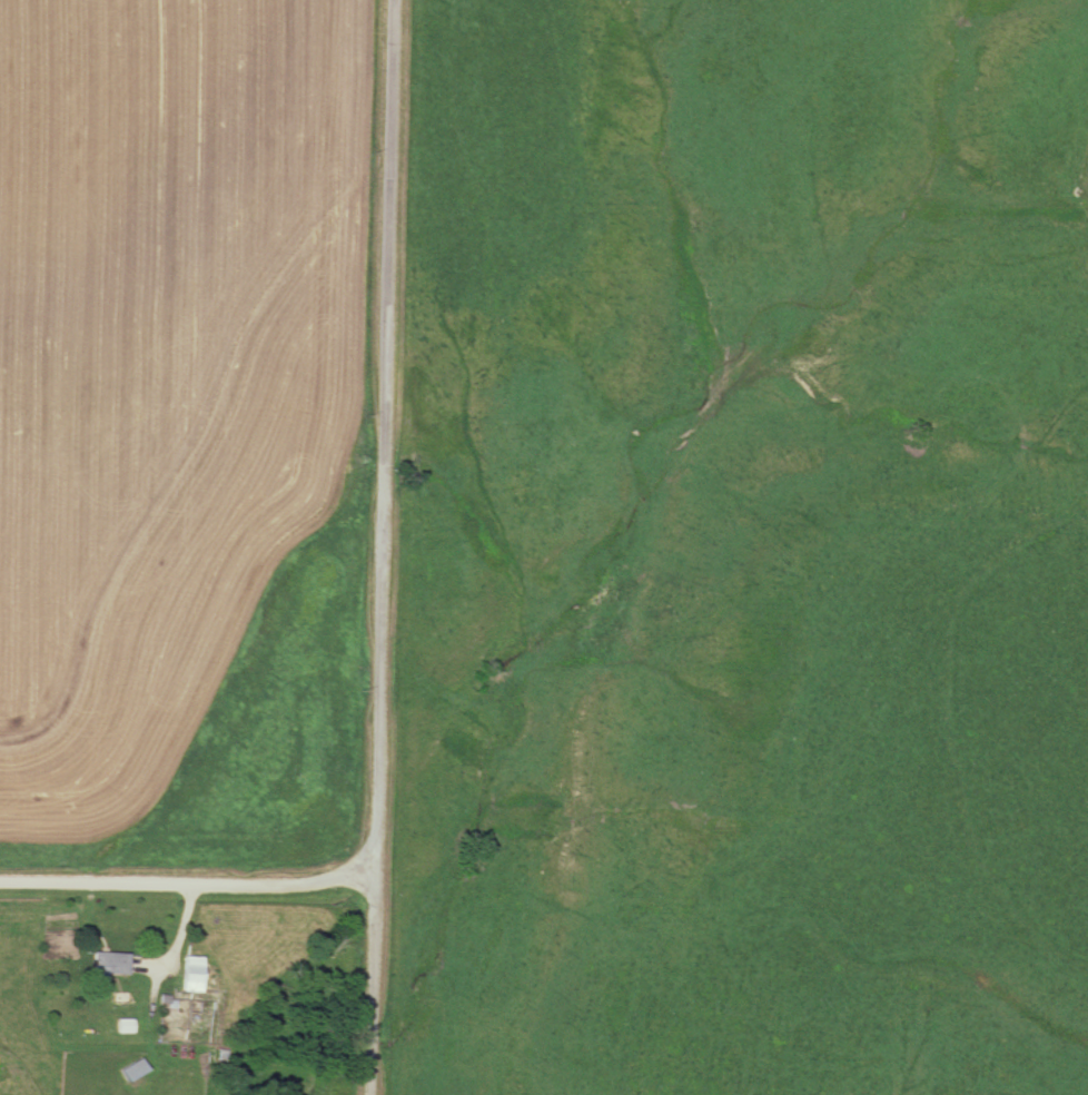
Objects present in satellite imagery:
road: (385, 547)
road: (190, 876)
road: (165, 959)
building: (107, 964)
building: (192, 975)
building: (133, 1069)

